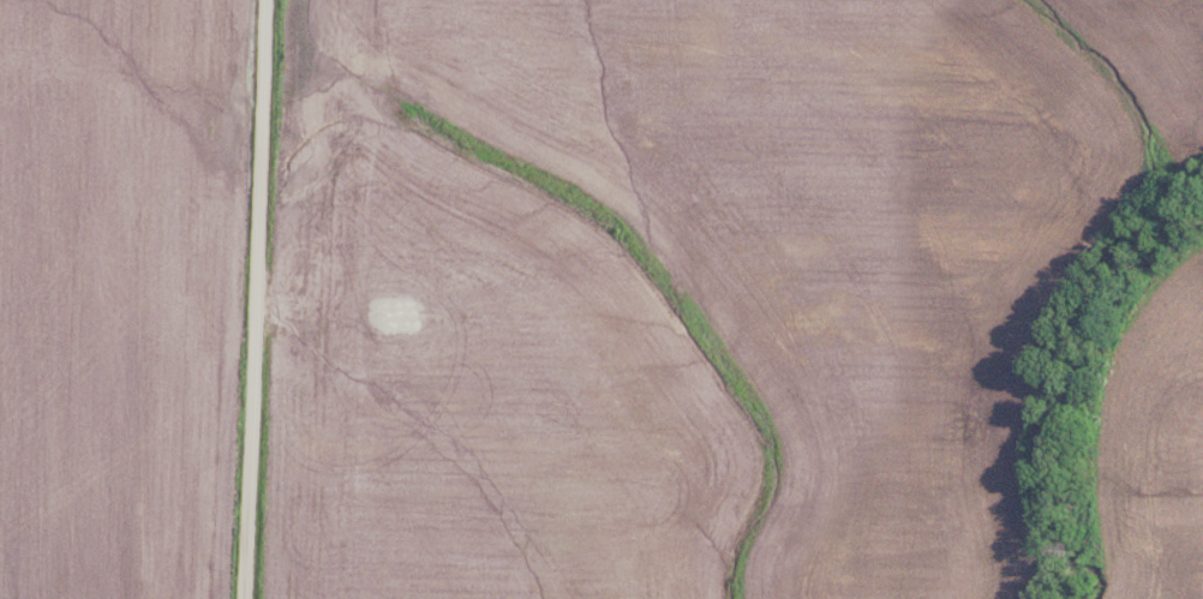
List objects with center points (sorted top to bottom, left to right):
road: (256, 299)

